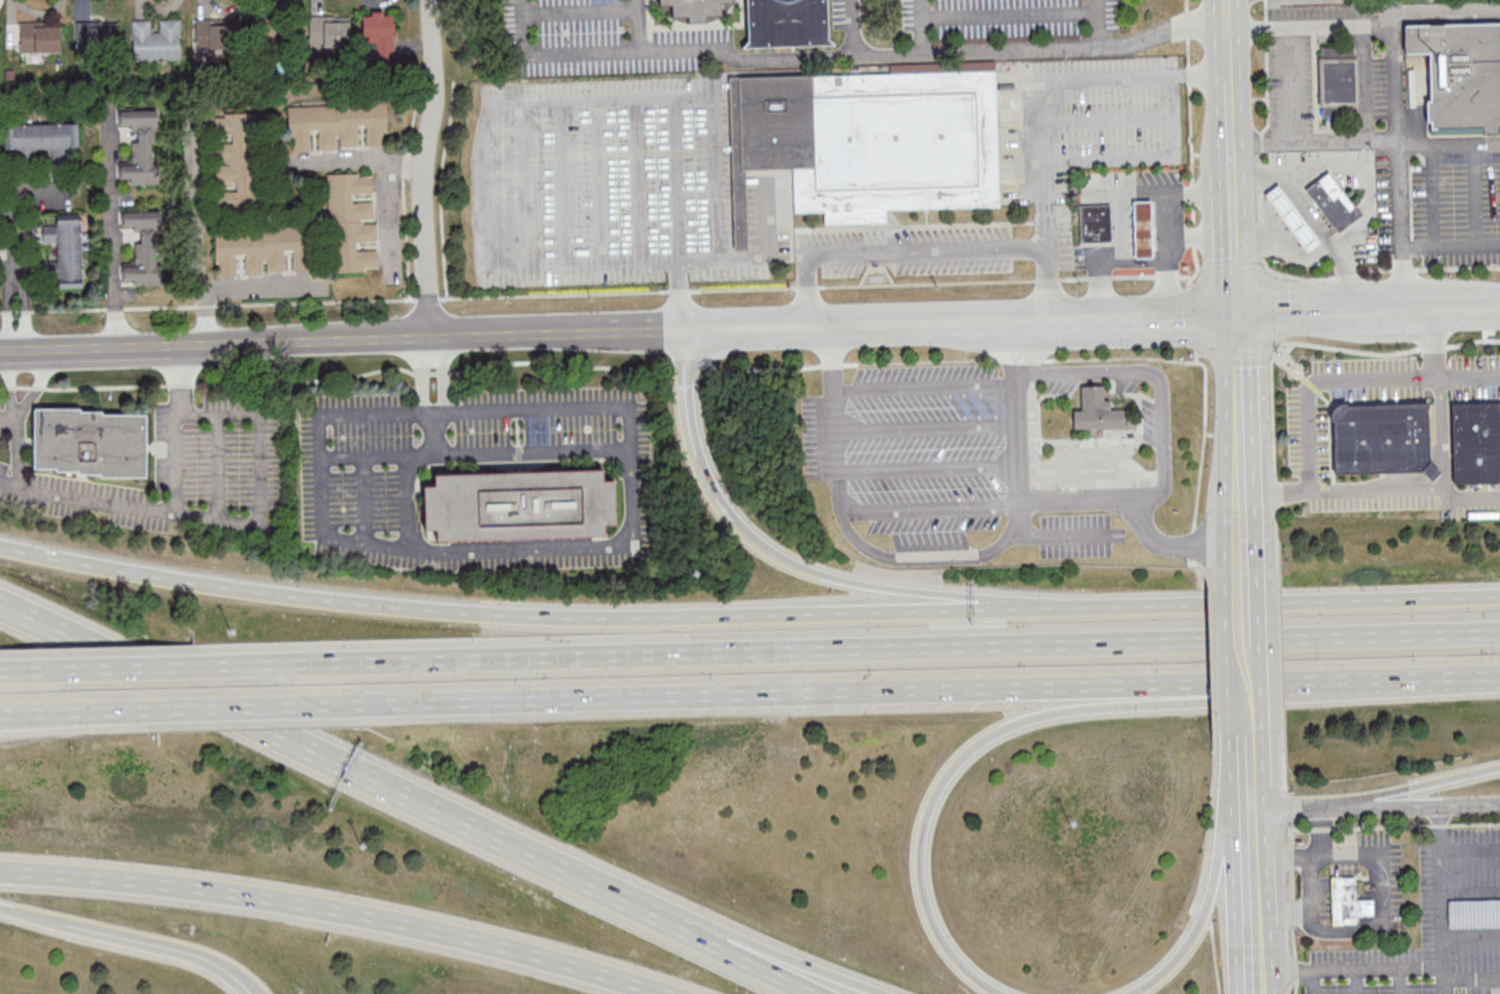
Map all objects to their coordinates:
park: (445, 4)
road: (1228, 13)
building: (765, 19)
road: (1099, 24)
road: (639, 26)
road: (922, 27)
building: (325, 31)
building: (273, 33)
building: (379, 33)
building: (211, 34)
building: (40, 36)
building: (96, 36)
building: (157, 40)
road: (1229, 52)
road: (848, 60)
building: (1336, 73)
building: (1461, 78)
road: (1055, 81)
road: (1397, 81)
road: (1293, 112)
road: (1366, 114)
road: (714, 121)
road: (1232, 125)
building: (337, 126)
road: (1375, 138)
building: (875, 139)
building: (38, 140)
road: (1449, 143)
building: (143, 147)
building: (236, 160)
road: (365, 161)
road: (423, 170)
road: (1367, 170)
road: (1192, 183)
road: (484, 189)
road: (1179, 191)
road: (1474, 194)
road: (1432, 195)
parking lot: (1437, 201)
building: (1334, 202)
road: (1266, 208)
building: (1292, 218)
road: (1313, 218)
building: (351, 224)
building: (1096, 224)
road: (194, 230)
building: (1143, 230)
road: (110, 236)
road: (1194, 237)
road: (1236, 242)
road: (1450, 245)
building: (146, 249)
building: (262, 250)
road: (889, 250)
building: (65, 251)
road: (1286, 252)
road: (729, 259)
road: (643, 261)
road: (1132, 261)
road: (1376, 270)
road: (16, 277)
road: (942, 283)
road: (1055, 284)
road: (264, 287)
road: (1445, 306)
road: (1479, 306)
road: (1417, 307)
road: (1378, 308)
road: (1296, 309)
traffic signals: (1239, 311)
road: (1161, 315)
road: (1070, 320)
road: (1036, 322)
road: (850, 328)
road: (1432, 342)
road: (1290, 343)
road: (342, 344)
road: (1019, 360)
road: (920, 361)
road: (839, 365)
parking lot: (1127, 379)
road: (1352, 379)
parking lot: (1063, 382)
road: (1205, 383)
road: (38, 384)
road: (7, 385)
road: (926, 386)
road: (686, 392)
road: (1242, 402)
road: (553, 409)
building: (1096, 410)
road: (431, 412)
road: (318, 420)
road: (835, 420)
parking lot: (1153, 422)
road: (927, 427)
road: (1019, 428)
road: (1163, 433)
road: (1443, 434)
building: (1382, 439)
building: (1476, 441)
building: (90, 442)
parking lot: (912, 450)
road: (362, 456)
parking lot: (1087, 460)
road: (928, 467)
road: (1092, 476)
road: (1277, 491)
road: (1377, 491)
road: (1472, 492)
road: (408, 502)
building: (520, 505)
road: (931, 509)
road: (143, 511)
road: (1247, 520)
road: (1071, 535)
parking lot: (1076, 535)
road: (364, 545)
road: (1176, 546)
road: (568, 547)
road: (1249, 555)
road: (921, 556)
road: (860, 582)
road: (1291, 600)
road: (1250, 604)
road: (538, 616)
road: (868, 648)
road: (1280, 654)
road: (133, 668)
road: (14, 671)
road: (1251, 687)
road: (909, 689)
road: (217, 708)
road: (1087, 709)
road: (57, 712)
road: (43, 716)
road: (1253, 759)
road: (359, 774)
road: (1284, 779)
road: (1408, 788)
road: (1408, 807)
road: (1285, 810)
road: (1442, 829)
road: (1320, 833)
road: (1255, 854)
road: (1215, 875)
road: (1444, 881)
road: (1312, 885)
road: (1472, 889)
building: (1349, 902)
road: (331, 912)
road: (31, 914)
road: (1472, 933)
road: (151, 943)
road: (1260, 947)
road: (802, 966)
road: (772, 967)
road: (1366, 970)
road: (1470, 978)
road: (1355, 982)
road: (1398, 982)
road: (1314, 983)
road: (242, 984)
road: (246, 984)
road: (1261, 984)

